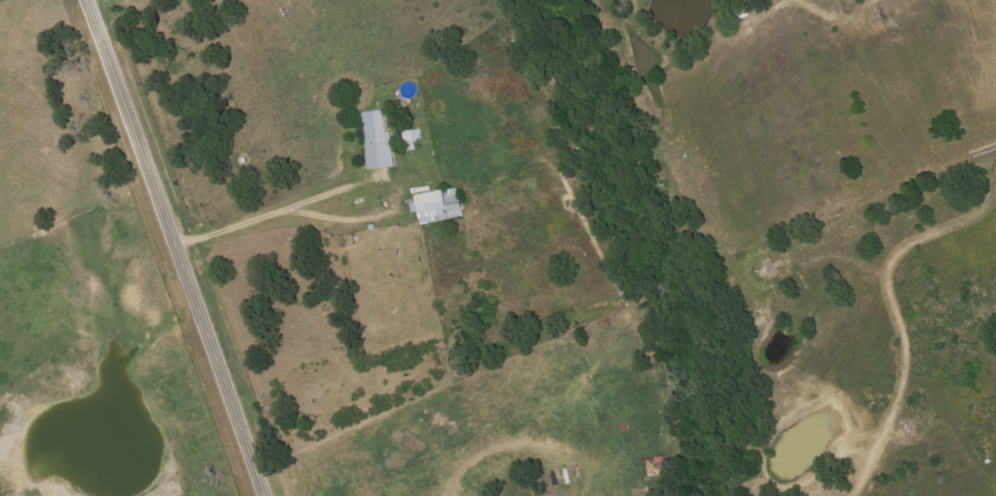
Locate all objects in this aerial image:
building: (412, 138)
building: (378, 141)
building: (438, 206)
road: (279, 212)
road: (176, 247)

